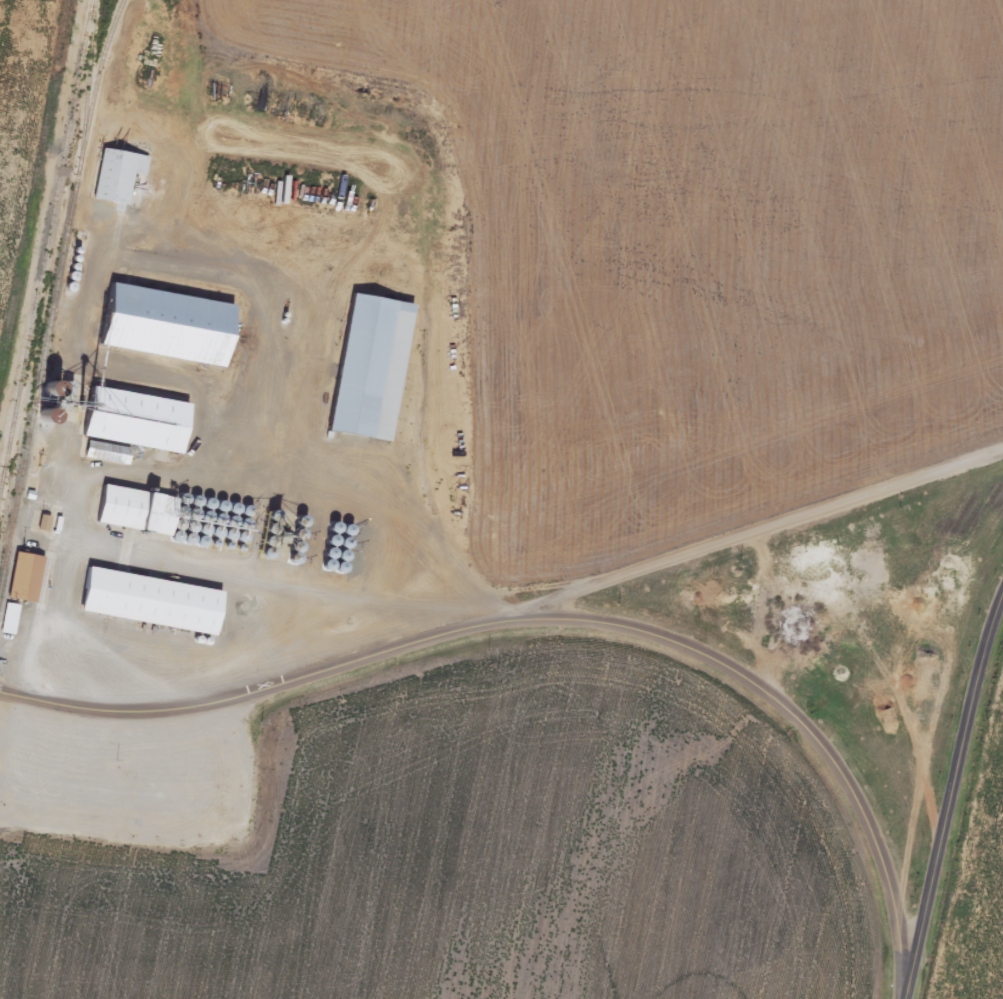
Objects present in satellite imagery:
railway: (88, 89)
building: (117, 177)
railway: (46, 255)
railway: (56, 295)
building: (163, 326)
building: (368, 370)
building: (41, 390)
building: (129, 426)
railway: (3, 489)
building: (133, 512)
road: (742, 541)
building: (24, 580)
building: (149, 603)
building: (9, 620)
road: (554, 621)
road: (949, 794)

